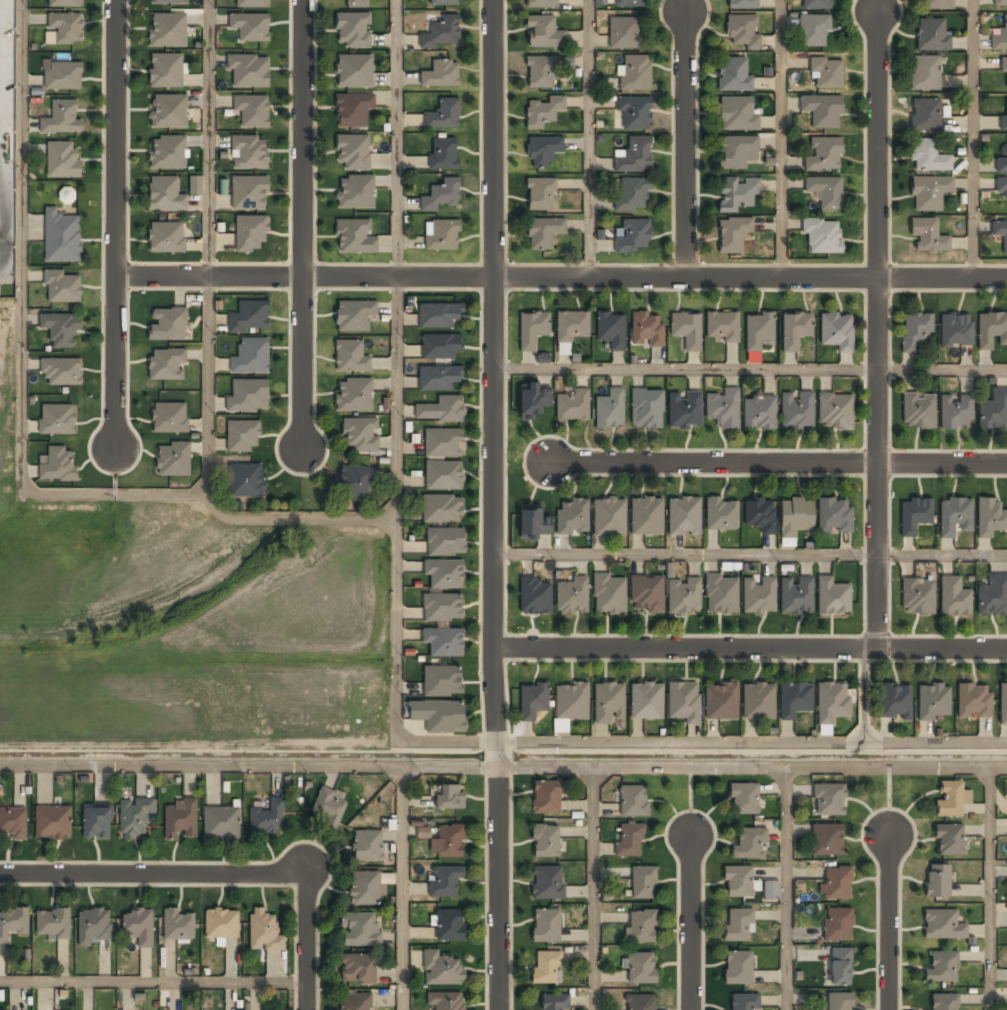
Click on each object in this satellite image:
building: (168, 2)
building: (444, 2)
building: (600, 2)
building: (1001, 2)
building: (64, 3)
building: (250, 3)
building: (627, 3)
building: (356, 4)
building: (542, 4)
building: (815, 4)
building: (742, 5)
building: (938, 5)
building: (65, 27)
building: (250, 27)
building: (167, 30)
building: (813, 30)
building: (353, 31)
building: (441, 31)
building: (741, 32)
building: (543, 33)
building: (623, 33)
building: (932, 35)
building: (999, 38)
building: (1003, 68)
building: (165, 71)
building: (248, 71)
building: (353, 72)
building: (541, 72)
building: (635, 73)
building: (441, 74)
building: (826, 74)
building: (925, 74)
building: (62, 76)
building: (733, 76)
building: (352, 110)
building: (822, 110)
building: (251, 111)
building: (168, 112)
building: (542, 113)
building: (634, 113)
building: (443, 114)
building: (736, 115)
building: (924, 115)
building: (61, 119)
building: (1003, 120)
road: (493, 136)
road: (588, 137)
road: (779, 138)
road: (972, 138)
road: (209, 139)
road: (683, 141)
building: (353, 152)
building: (541, 152)
building: (166, 153)
building: (249, 153)
building: (443, 153)
building: (735, 153)
building: (824, 155)
building: (633, 156)
building: (927, 157)
building: (62, 160)
building: (1002, 163)
building: (195, 185)
building: (1001, 186)
building: (355, 192)
building: (826, 193)
building: (929, 193)
building: (164, 194)
building: (249, 194)
building: (736, 194)
building: (540, 195)
building: (631, 195)
building: (440, 196)
road: (304, 223)
road: (115, 225)
building: (250, 233)
building: (542, 233)
building: (441, 235)
building: (732, 235)
building: (1000, 235)
building: (822, 236)
building: (927, 236)
building: (61, 237)
building: (353, 237)
building: (634, 237)
building: (166, 238)
road: (561, 273)
building: (62, 286)
building: (438, 315)
building: (353, 316)
building: (249, 318)
building: (167, 324)
building: (722, 327)
building: (532, 329)
building: (570, 329)
road: (879, 329)
building: (60, 330)
building: (686, 330)
building: (758, 330)
building: (610, 331)
building: (647, 331)
building: (795, 331)
building: (955, 331)
building: (991, 331)
building: (836, 332)
building: (914, 332)
building: (441, 347)
building: (250, 357)
building: (350, 357)
building: (166, 365)
road: (686, 370)
road: (943, 370)
building: (60, 372)
building: (437, 378)
road: (396, 383)
road: (206, 387)
building: (353, 396)
building: (247, 397)
building: (532, 401)
building: (572, 406)
building: (646, 409)
building: (723, 409)
building: (440, 410)
building: (609, 410)
building: (796, 410)
building: (684, 411)
building: (918, 411)
building: (834, 412)
building: (955, 412)
building: (993, 412)
building: (758, 413)
building: (169, 417)
building: (57, 419)
building: (358, 435)
road: (22, 436)
building: (242, 437)
building: (443, 443)
building: (173, 459)
road: (776, 463)
building: (58, 464)
building: (443, 476)
building: (246, 481)
building: (353, 481)
building: (442, 510)
building: (722, 514)
building: (834, 515)
building: (914, 515)
building: (646, 516)
building: (683, 516)
building: (954, 516)
building: (609, 517)
building: (759, 517)
building: (572, 518)
building: (795, 518)
building: (989, 518)
building: (533, 523)
building: (445, 542)
road: (941, 554)
road: (686, 555)
building: (443, 574)
building: (646, 595)
building: (609, 596)
building: (683, 596)
building: (721, 596)
building: (796, 596)
building: (534, 597)
building: (571, 597)
building: (758, 597)
building: (993, 597)
building: (833, 598)
building: (917, 598)
building: (953, 598)
building: (442, 608)
road: (496, 641)
building: (443, 642)
road: (752, 651)
building: (442, 681)
building: (794, 700)
building: (531, 701)
building: (646, 702)
building: (683, 702)
building: (720, 702)
building: (758, 702)
building: (832, 702)
building: (894, 702)
building: (933, 702)
building: (974, 702)
building: (571, 703)
building: (608, 704)
building: (1003, 705)
building: (439, 716)
building: (560, 725)
road: (752, 763)
road: (249, 765)
building: (1006, 792)
building: (449, 797)
building: (546, 798)
building: (744, 799)
building: (950, 799)
building: (828, 801)
building: (633, 802)
building: (329, 807)
building: (134, 819)
building: (267, 819)
building: (179, 820)
building: (12, 823)
building: (52, 823)
building: (96, 823)
building: (221, 824)
building: (423, 832)
building: (826, 840)
building: (545, 841)
building: (629, 841)
building: (949, 841)
building: (447, 842)
building: (750, 844)
building: (366, 847)
road: (154, 876)
building: (445, 881)
building: (385, 882)
building: (738, 882)
building: (937, 882)
building: (547, 883)
building: (643, 883)
building: (837, 884)
road: (594, 886)
road: (785, 887)
road: (990, 887)
road: (402, 888)
building: (365, 889)
building: (771, 890)
road: (690, 920)
building: (12, 923)
building: (52, 923)
road: (890, 923)
building: (178, 924)
building: (221, 924)
building: (837, 925)
building: (449, 926)
building: (545, 926)
building: (737, 926)
building: (942, 926)
building: (93, 927)
building: (138, 927)
building: (641, 927)
building: (359, 930)
building: (264, 932)
road: (307, 943)
building: (840, 967)
building: (546, 968)
building: (738, 968)
building: (941, 968)
building: (441, 969)
building: (640, 969)
building: (357, 970)
road: (153, 984)
building: (444, 1001)
building: (355, 1002)
building: (743, 1002)
building: (839, 1002)
building: (944, 1002)
building: (554, 1003)
building: (640, 1003)

